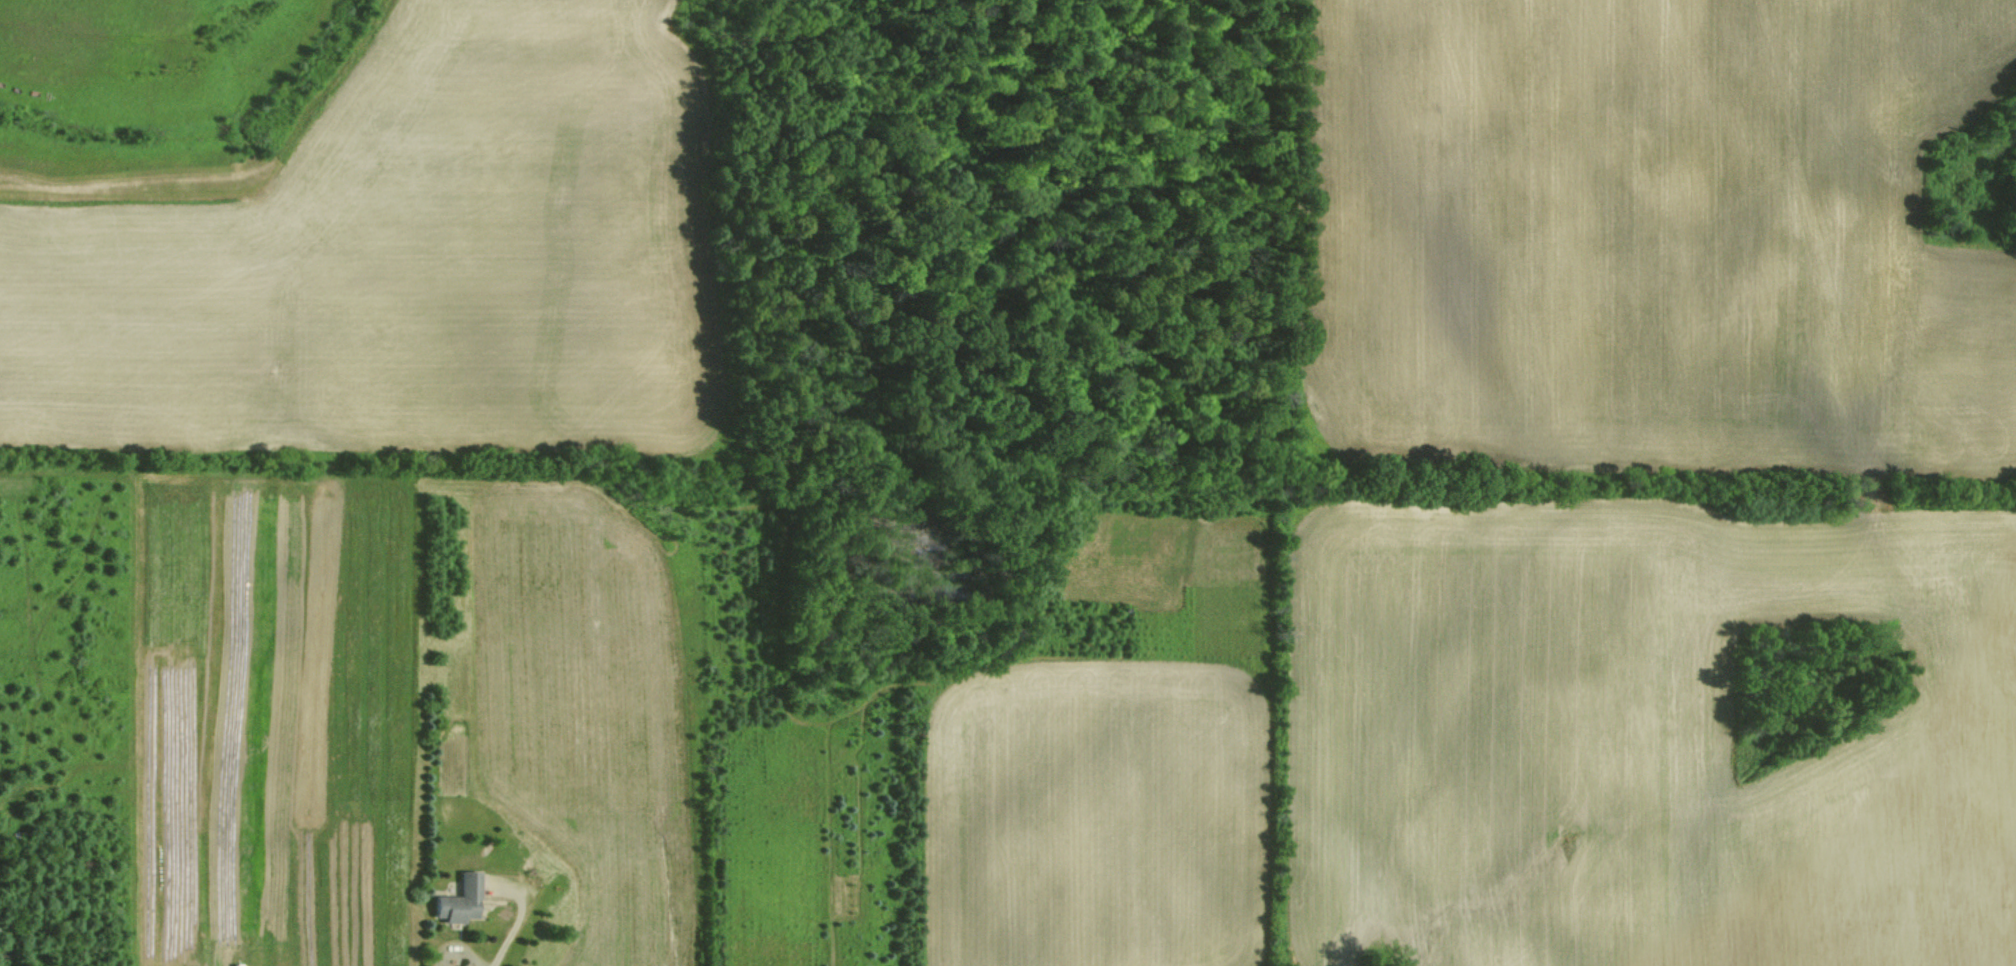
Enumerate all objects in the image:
building: (456, 899)
road: (511, 923)

